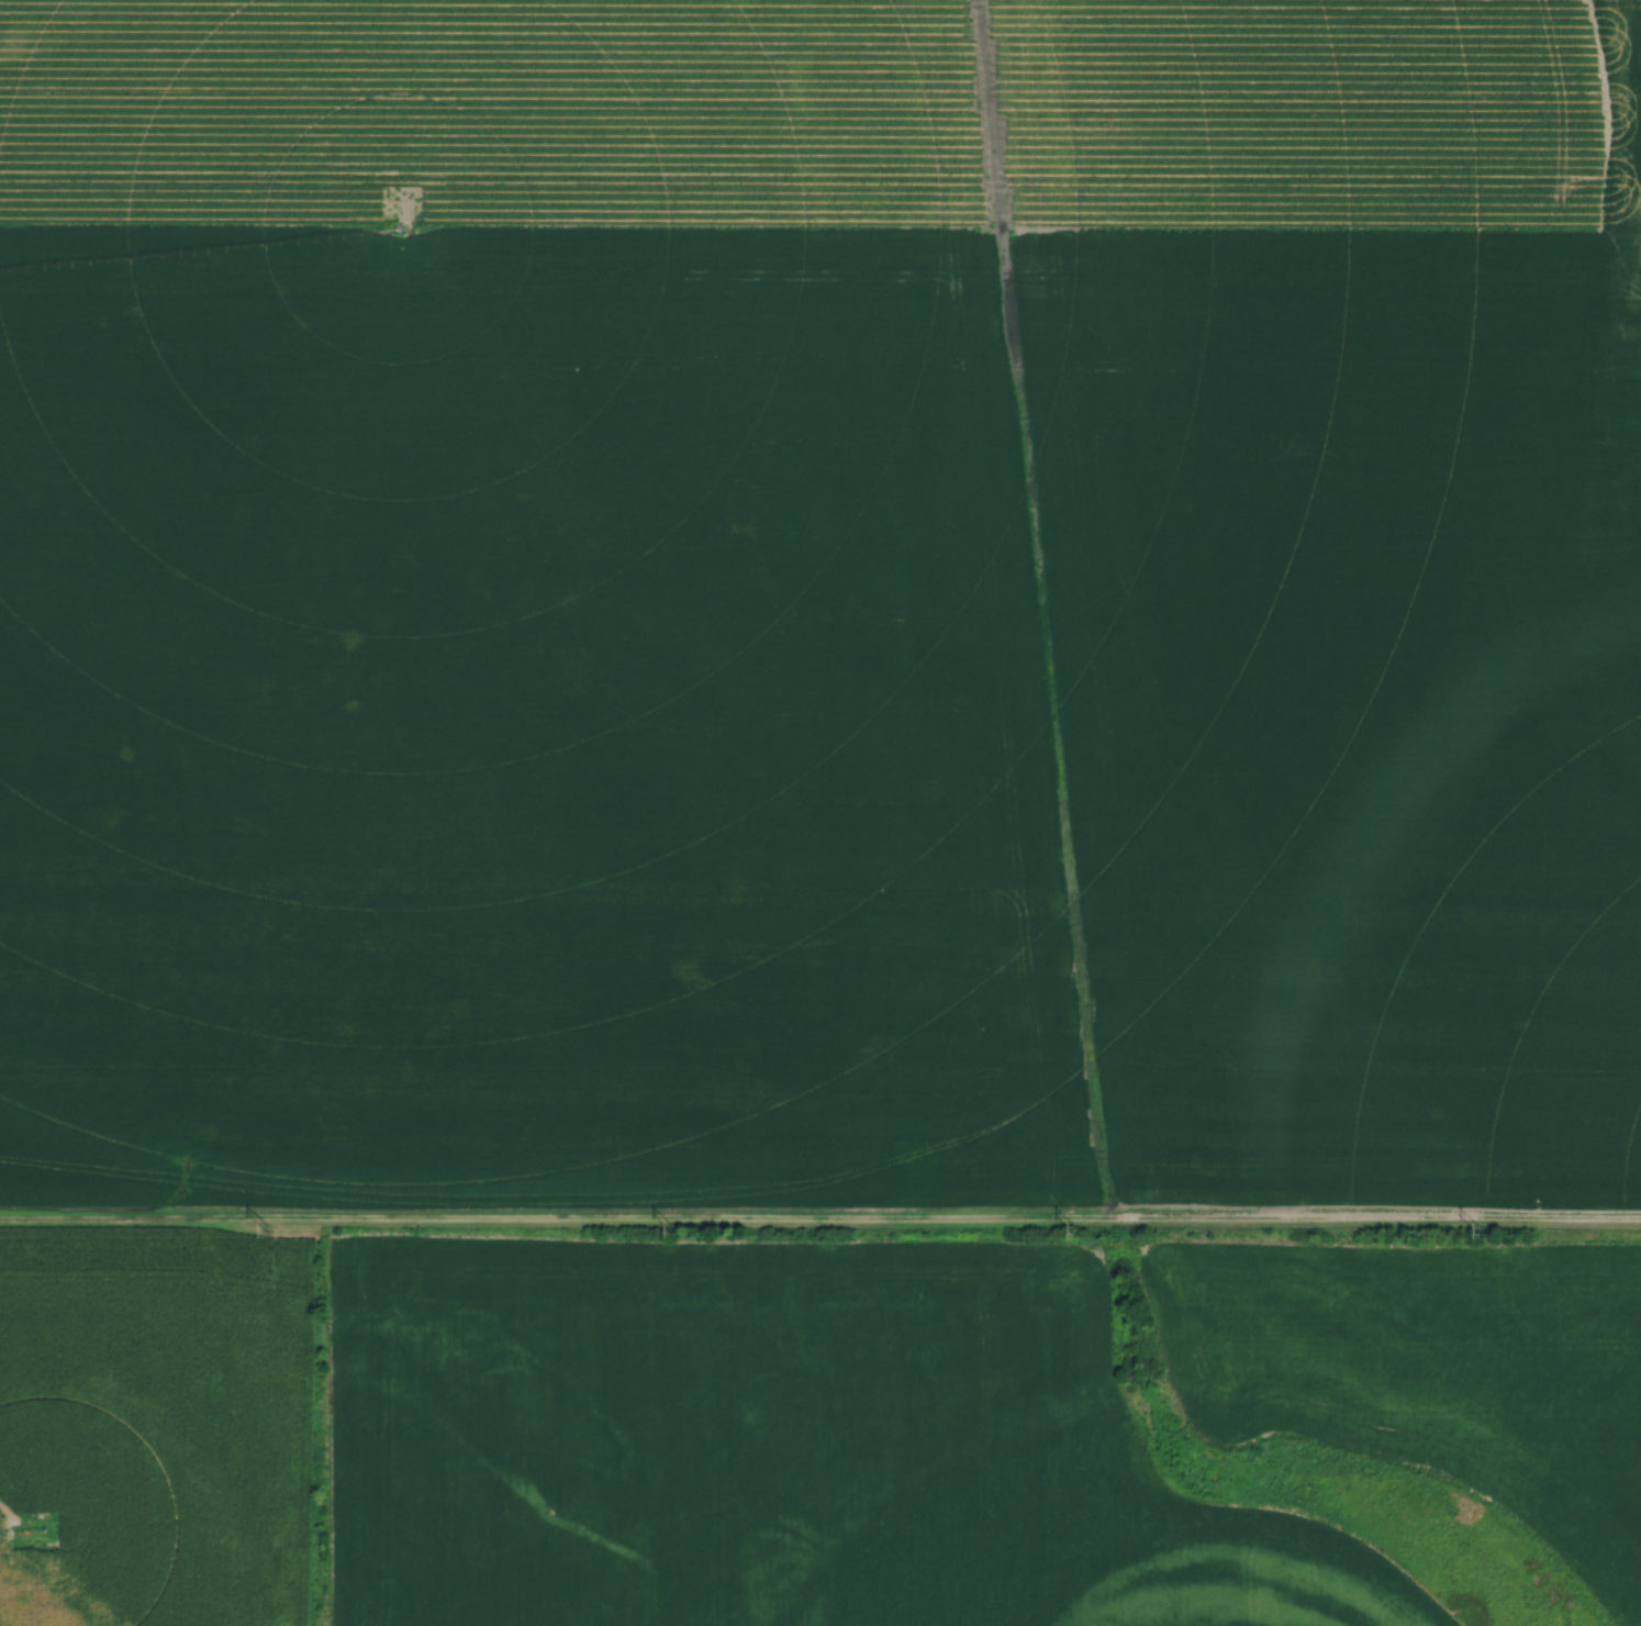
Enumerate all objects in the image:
power tower: (265, 1227)
power tower: (670, 1229)
power tower: (1478, 1229)
power tower: (1074, 1230)

